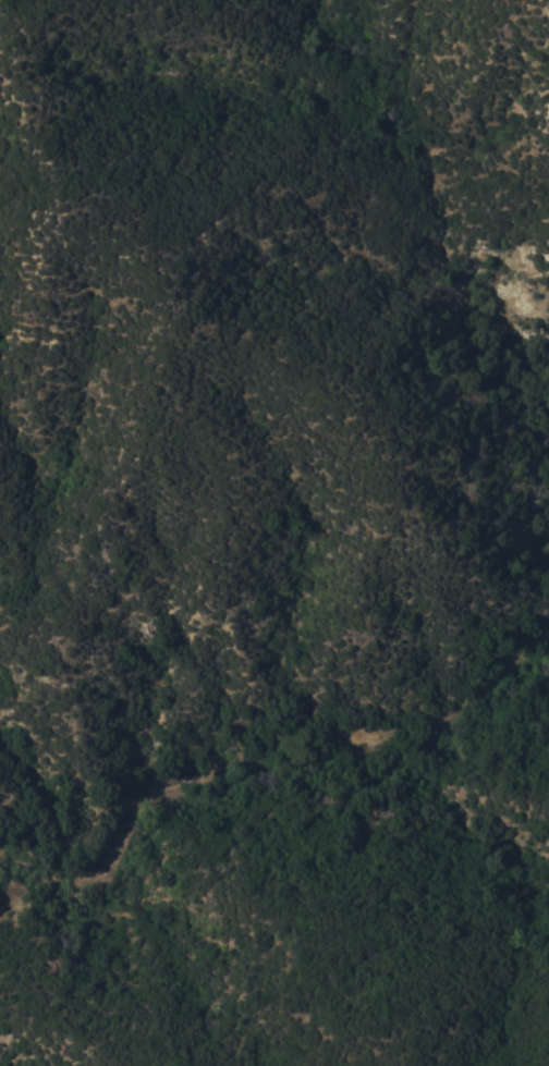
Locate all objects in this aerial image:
road: (231, 788)

